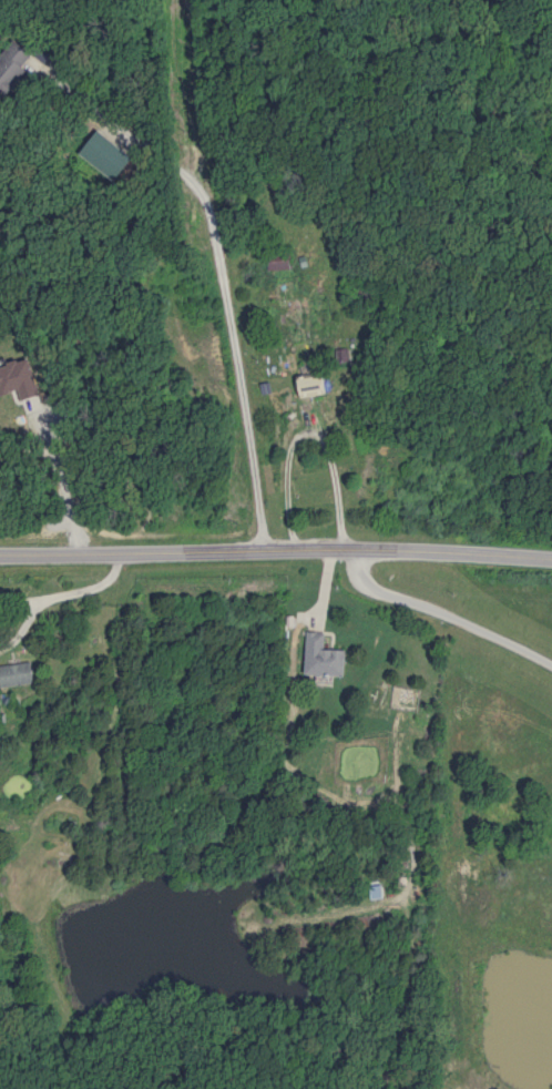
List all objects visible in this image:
building: (12, 63)
building: (280, 259)
road: (218, 276)
building: (315, 385)
road: (304, 430)
road: (276, 552)
road: (442, 612)
building: (325, 655)
building: (17, 675)

